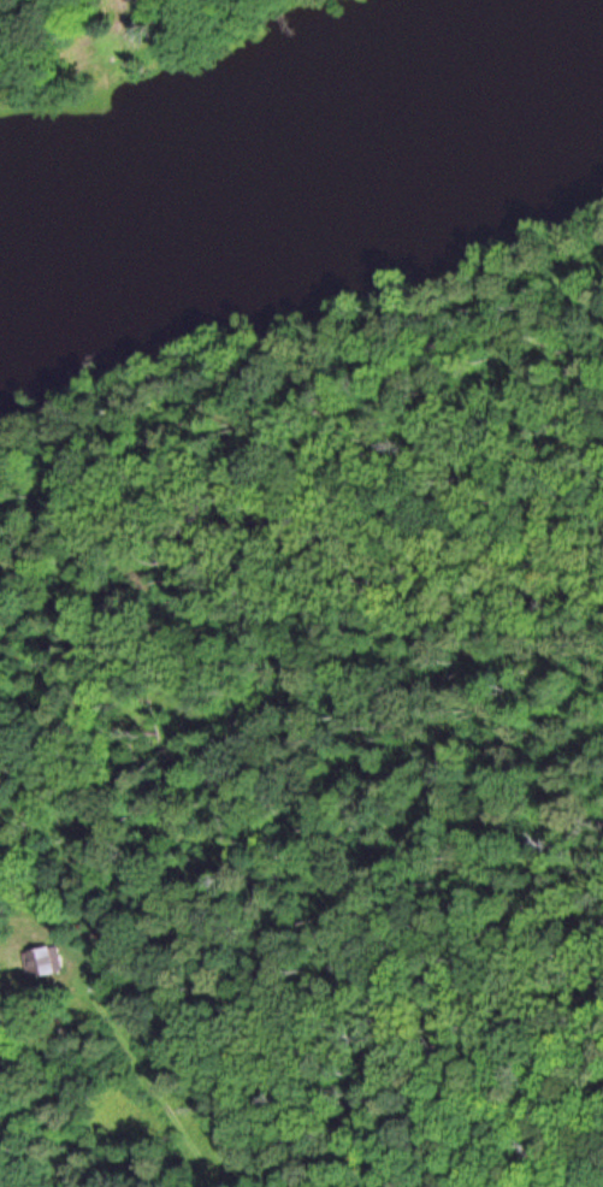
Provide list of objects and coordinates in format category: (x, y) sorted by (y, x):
river: (297, 150)
building: (47, 961)
road: (155, 1089)

